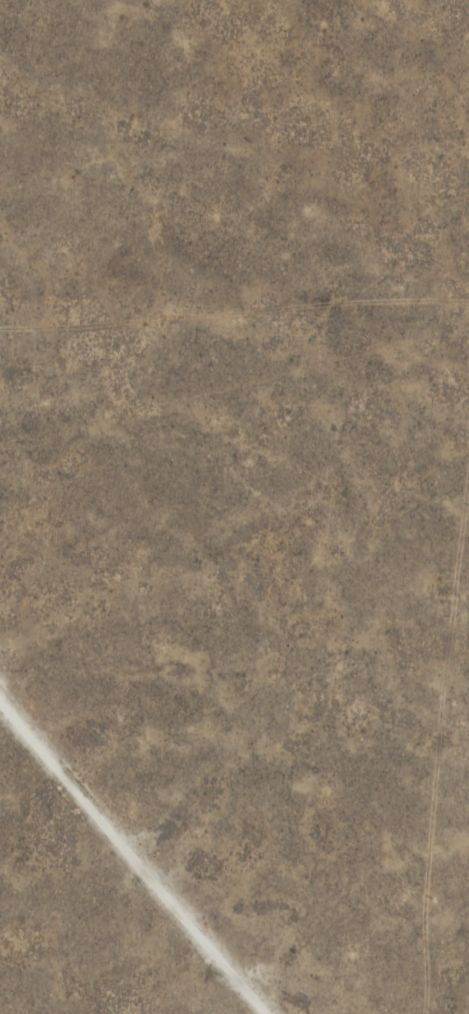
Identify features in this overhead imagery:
road: (139, 856)

